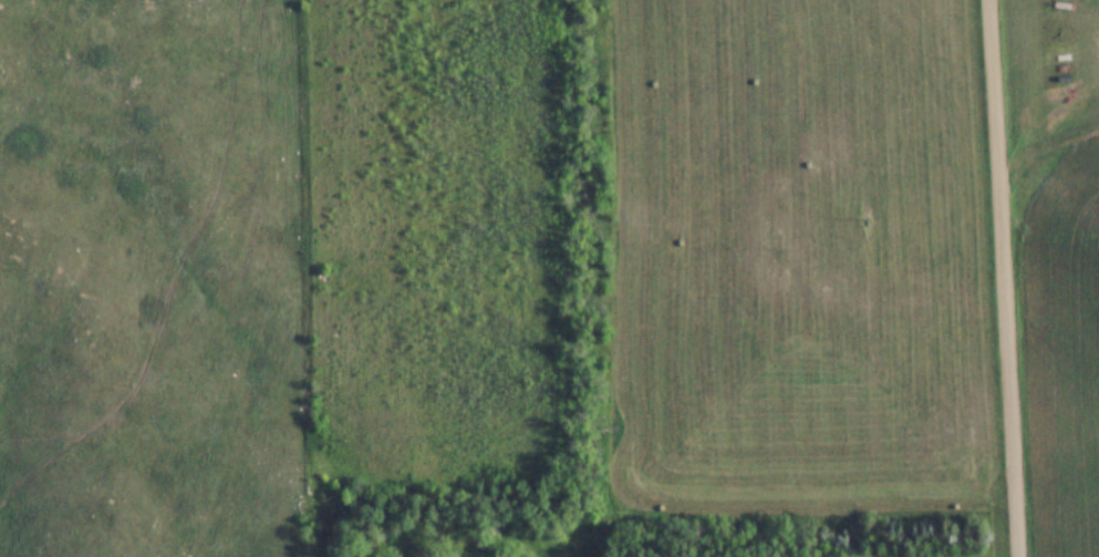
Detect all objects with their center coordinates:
road: (1003, 278)

